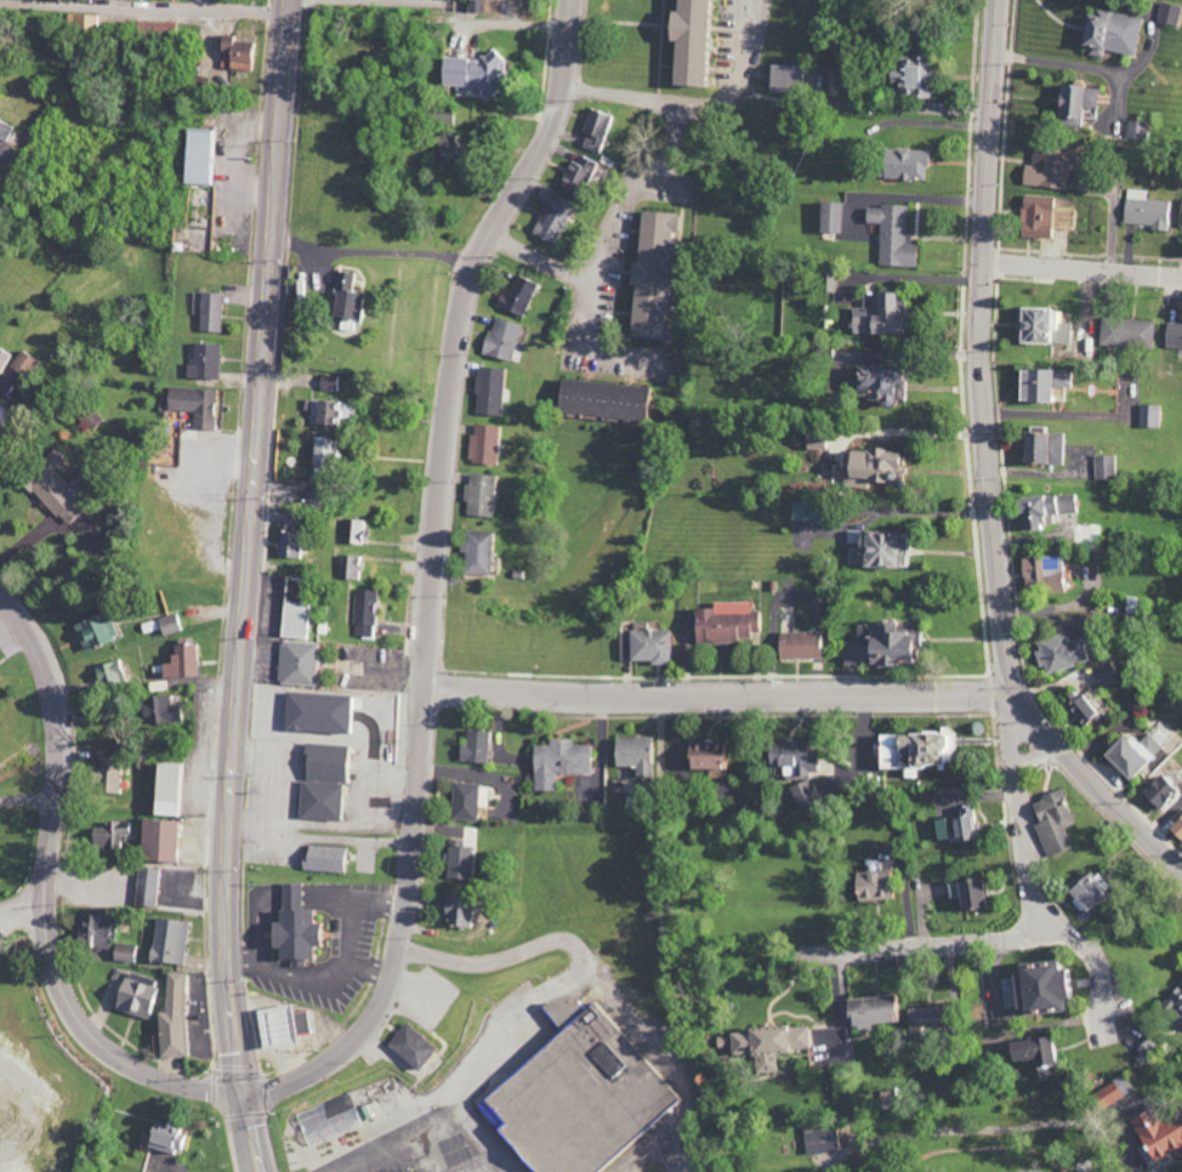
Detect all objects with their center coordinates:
road: (195, 5)
road: (285, 13)
building: (1169, 13)
building: (83, 19)
building: (159, 29)
building: (1109, 33)
building: (683, 41)
building: (234, 53)
road: (1103, 70)
building: (472, 74)
building: (780, 78)
building: (1087, 97)
road: (698, 104)
building: (1065, 104)
building: (1086, 113)
building: (442, 115)
building: (596, 127)
building: (1136, 130)
building: (7, 141)
building: (450, 148)
building: (199, 157)
building: (900, 164)
building: (1045, 169)
building: (581, 172)
road: (633, 189)
building: (1146, 210)
building: (551, 214)
building: (1180, 214)
building: (830, 216)
building: (1034, 216)
building: (1064, 217)
building: (892, 235)
road: (376, 251)
road: (545, 258)
road: (1086, 272)
building: (648, 274)
road: (924, 279)
building: (516, 296)
building: (347, 297)
building: (210, 312)
building: (1041, 326)
building: (1125, 332)
building: (1174, 336)
building: (501, 338)
building: (204, 362)
building: (331, 382)
building: (873, 385)
building: (1040, 385)
road: (4, 388)
building: (489, 391)
building: (603, 399)
building: (193, 405)
building: (324, 410)
building: (89, 416)
building: (1148, 416)
road: (913, 433)
building: (484, 444)
building: (1041, 448)
building: (324, 453)
building: (865, 467)
building: (1104, 467)
road: (994, 468)
building: (52, 488)
building: (481, 495)
building: (1041, 510)
building: (802, 511)
road: (917, 512)
building: (358, 531)
road: (95, 537)
building: (286, 541)
building: (875, 548)
building: (478, 552)
building: (354, 567)
road: (437, 578)
road: (248, 586)
building: (295, 610)
building: (366, 613)
building: (723, 622)
building: (169, 624)
building: (95, 631)
building: (797, 644)
building: (880, 644)
building: (644, 645)
building: (1059, 653)
building: (181, 661)
building: (296, 662)
building: (109, 673)
road: (722, 692)
building: (1080, 709)
building: (160, 710)
park: (24, 721)
building: (473, 747)
road: (1038, 750)
building: (911, 751)
building: (1127, 753)
building: (632, 755)
building: (705, 756)
building: (789, 757)
building: (558, 762)
building: (104, 776)
building: (322, 781)
building: (165, 789)
building: (1154, 792)
building: (801, 795)
building: (466, 801)
building: (1052, 823)
building: (953, 826)
building: (1176, 826)
building: (110, 835)
building: (157, 841)
building: (323, 858)
road: (1035, 858)
building: (459, 860)
building: (870, 886)
building: (147, 887)
road: (51, 889)
building: (1085, 889)
building: (962, 893)
road: (24, 908)
building: (456, 912)
building: (291, 928)
building: (102, 938)
road: (948, 939)
building: (169, 941)
road: (583, 962)
building: (1030, 990)
building: (1174, 1005)
building: (866, 1012)
building: (172, 1018)
building: (922, 1019)
building: (279, 1025)
building: (767, 1045)
building: (410, 1046)
building: (1029, 1053)
building: (1112, 1091)
building: (574, 1096)
building: (331, 1119)
building: (1155, 1132)
building: (819, 1138)
building: (166, 1139)
road: (397, 1140)
road: (488, 1140)

